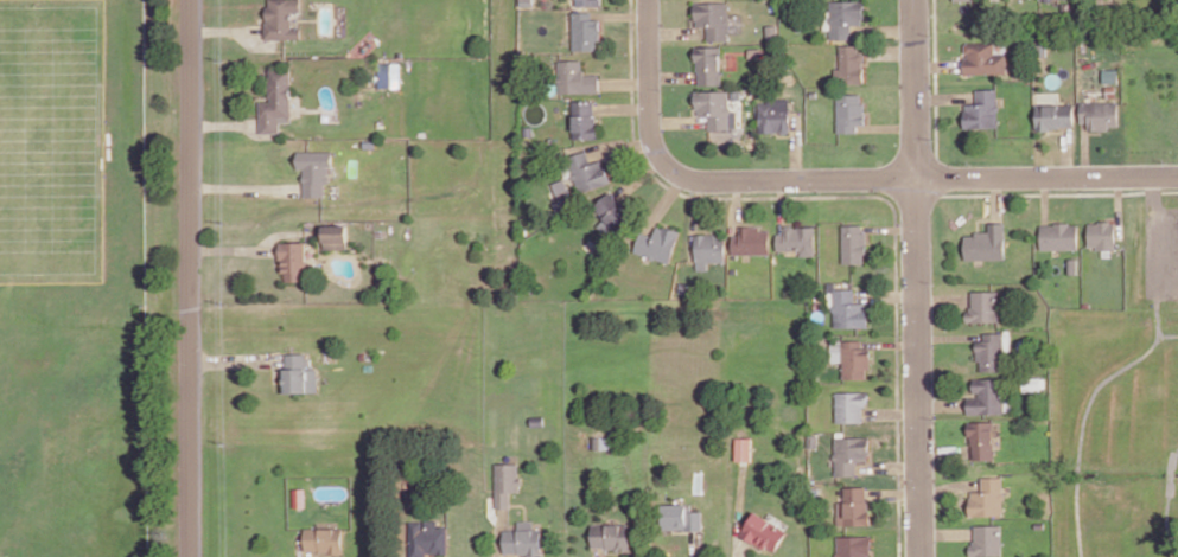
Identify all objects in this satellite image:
building: (962, 0)
building: (526, 1)
building: (588, 1)
road: (622, 14)
building: (845, 15)
building: (713, 17)
building: (280, 19)
road: (214, 30)
building: (585, 30)
road: (886, 30)
road: (676, 31)
building: (772, 31)
street lamp: (897, 38)
building: (1042, 47)
building: (756, 50)
road: (893, 51)
building: (983, 57)
building: (709, 63)
building: (851, 63)
road: (938, 64)
building: (1019, 71)
building: (1112, 73)
building: (388, 75)
road: (673, 75)
building: (575, 76)
road: (936, 77)
road: (625, 82)
street lamp: (662, 89)
building: (1113, 89)
building: (814, 92)
road: (944, 96)
building: (276, 100)
building: (714, 105)
road: (962, 105)
road: (623, 108)
building: (983, 108)
building: (851, 110)
building: (1101, 113)
building: (1056, 114)
road: (600, 115)
building: (773, 116)
building: (584, 119)
road: (677, 120)
road: (221, 123)
road: (887, 126)
building: (527, 129)
road: (1057, 129)
road: (1095, 130)
park: (50, 139)
road: (610, 142)
road: (794, 143)
road: (1085, 148)
road: (1066, 151)
building: (314, 168)
building: (587, 169)
road: (638, 177)
road: (835, 178)
road: (243, 186)
street lamp: (692, 191)
street lamp: (821, 191)
road: (1062, 192)
road: (859, 194)
road: (996, 198)
road: (1045, 198)
road: (663, 200)
road: (782, 204)
road: (737, 205)
road: (1120, 205)
building: (615, 210)
road: (694, 216)
road: (980, 218)
road: (891, 228)
road: (1158, 231)
building: (1061, 233)
building: (1104, 233)
building: (335, 235)
building: (798, 238)
building: (751, 239)
building: (657, 242)
building: (854, 242)
building: (987, 242)
building: (709, 248)
road: (231, 249)
parking lot: (1163, 251)
building: (293, 258)
building: (1074, 264)
building: (830, 269)
road: (190, 277)
building: (613, 277)
road: (917, 278)
park: (79, 280)
building: (682, 286)
road: (887, 295)
road: (944, 299)
building: (985, 305)
building: (849, 308)
road: (1158, 313)
road: (1169, 332)
street lamp: (902, 334)
road: (950, 335)
road: (892, 342)
building: (992, 350)
building: (855, 358)
road: (234, 359)
building: (294, 371)
building: (1033, 382)
building: (988, 393)
road: (943, 403)
building: (851, 404)
road: (893, 412)
building: (537, 418)
road: (1082, 428)
building: (982, 437)
building: (814, 438)
building: (601, 441)
building: (745, 448)
road: (943, 450)
building: (851, 452)
road: (890, 466)
building: (507, 481)
road: (950, 486)
road: (894, 493)
building: (297, 495)
building: (989, 497)
road: (1166, 497)
road: (523, 504)
building: (854, 506)
building: (682, 516)
building: (1040, 524)
building: (764, 529)
road: (948, 532)
road: (499, 533)
building: (612, 534)
building: (427, 537)
building: (323, 538)
building: (524, 538)
building: (988, 538)
road: (695, 544)
building: (854, 545)
road: (740, 546)
road: (601, 552)
road: (873, 552)
road: (312, 555)
road: (512, 555)

